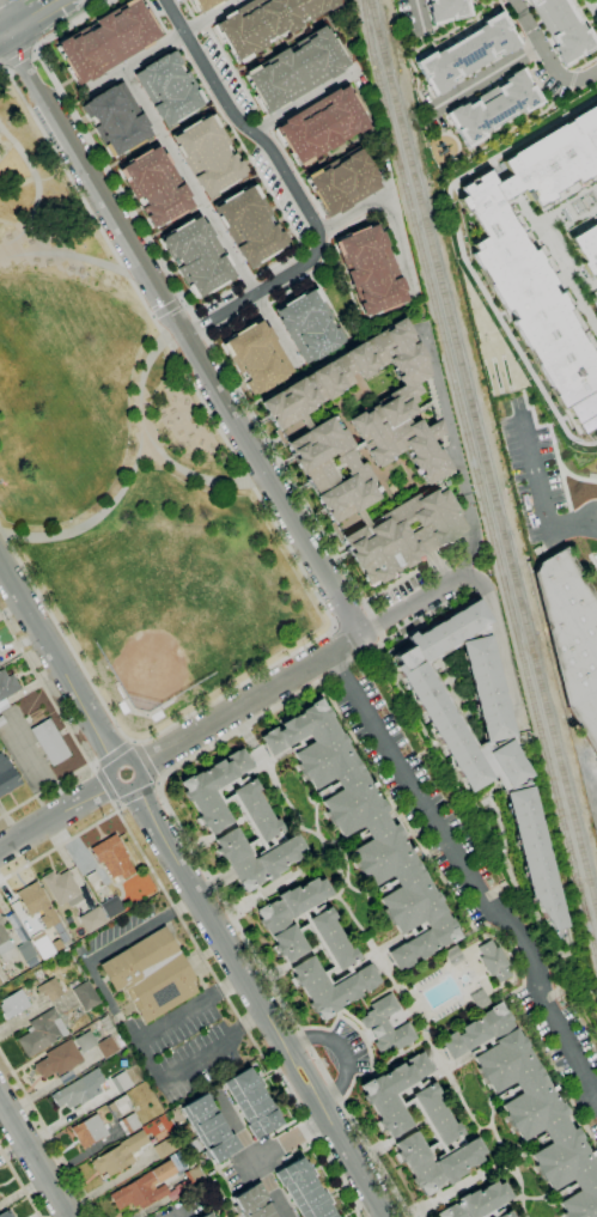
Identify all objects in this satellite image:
road: (1, 0)
building: (223, 0)
road: (596, 1)
building: (202, 4)
road: (591, 8)
building: (446, 11)
road: (419, 17)
road: (32, 19)
building: (264, 23)
building: (561, 28)
building: (106, 41)
road: (159, 45)
road: (33, 50)
building: (467, 53)
road: (547, 53)
road: (18, 59)
road: (4, 68)
building: (296, 68)
road: (1, 71)
road: (495, 73)
building: (169, 89)
road: (305, 102)
building: (493, 108)
building: (116, 120)
building: (322, 124)
building: (208, 154)
building: (342, 181)
road: (35, 184)
road: (296, 185)
building: (152, 189)
road: (392, 213)
road: (209, 218)
road: (8, 224)
building: (251, 226)
building: (587, 250)
road: (61, 252)
building: (195, 257)
building: (371, 269)
road: (181, 299)
building: (536, 304)
road: (166, 308)
road: (152, 315)
building: (309, 325)
road: (183, 329)
building: (257, 357)
road: (229, 376)
street lamp: (512, 394)
building: (428, 401)
road: (552, 437)
road: (152, 439)
street lamp: (555, 439)
street lamp: (127, 440)
building: (441, 440)
building: (371, 451)
building: (354, 454)
road: (455, 454)
railway: (483, 455)
park: (596, 456)
park: (123, 470)
railway: (477, 479)
building: (438, 486)
road: (564, 487)
road: (540, 497)
road: (99, 515)
road: (596, 518)
street lamp: (69, 519)
road: (596, 519)
road: (293, 553)
road: (592, 561)
road: (432, 592)
park: (176, 598)
building: (571, 637)
road: (343, 643)
building: (0, 652)
road: (59, 662)
building: (6, 688)
road: (250, 701)
building: (1, 720)
road: (71, 731)
building: (304, 740)
building: (50, 742)
road: (114, 753)
road: (144, 761)
road: (92, 763)
building: (491, 767)
building: (7, 777)
road: (158, 783)
road: (105, 784)
road: (123, 786)
building: (213, 789)
road: (136, 791)
road: (116, 805)
building: (239, 810)
building: (256, 810)
road: (57, 816)
road: (392, 816)
road: (315, 820)
road: (377, 828)
road: (500, 828)
building: (366, 830)
road: (213, 834)
building: (275, 839)
road: (351, 844)
building: (112, 857)
building: (256, 858)
flagpole: (55, 862)
road: (347, 869)
road: (467, 876)
road: (286, 883)
road: (214, 884)
building: (61, 887)
building: (37, 903)
building: (112, 907)
road: (208, 915)
building: (290, 917)
building: (92, 919)
road: (469, 925)
road: (360, 927)
building: (413, 931)
building: (333, 938)
building: (5, 945)
building: (24, 945)
building: (43, 947)
building: (321, 947)
road: (202, 956)
road: (255, 957)
building: (493, 961)
road: (290, 963)
road: (89, 968)
building: (151, 974)
building: (0, 981)
road: (231, 985)
building: (330, 986)
building: (50, 990)
building: (86, 996)
building: (14, 1004)
road: (175, 1017)
road: (251, 1017)
building: (386, 1024)
building: (42, 1033)
road: (363, 1038)
building: (479, 1045)
building: (79, 1049)
road: (340, 1053)
road: (202, 1059)
road: (309, 1071)
road: (296, 1079)
building: (121, 1082)
building: (79, 1089)
building: (394, 1093)
building: (251, 1102)
building: (120, 1106)
building: (530, 1107)
building: (435, 1114)
road: (573, 1119)
building: (425, 1121)
building: (129, 1124)
building: (209, 1127)
road: (555, 1127)
road: (485, 1128)
building: (89, 1131)
road: (49, 1133)
road: (532, 1142)
building: (166, 1146)
road: (506, 1146)
building: (118, 1155)
road: (35, 1156)
road: (266, 1157)
road: (353, 1161)
building: (435, 1162)
road: (493, 1169)
road: (20, 1181)
building: (153, 1187)
road: (461, 1187)
building: (303, 1189)
building: (477, 1201)
building: (252, 1203)
building: (494, 1212)
building: (6, 1213)
road: (178, 1215)
building: (206, 1215)
road: (412, 1215)
building: (506, 1215)

